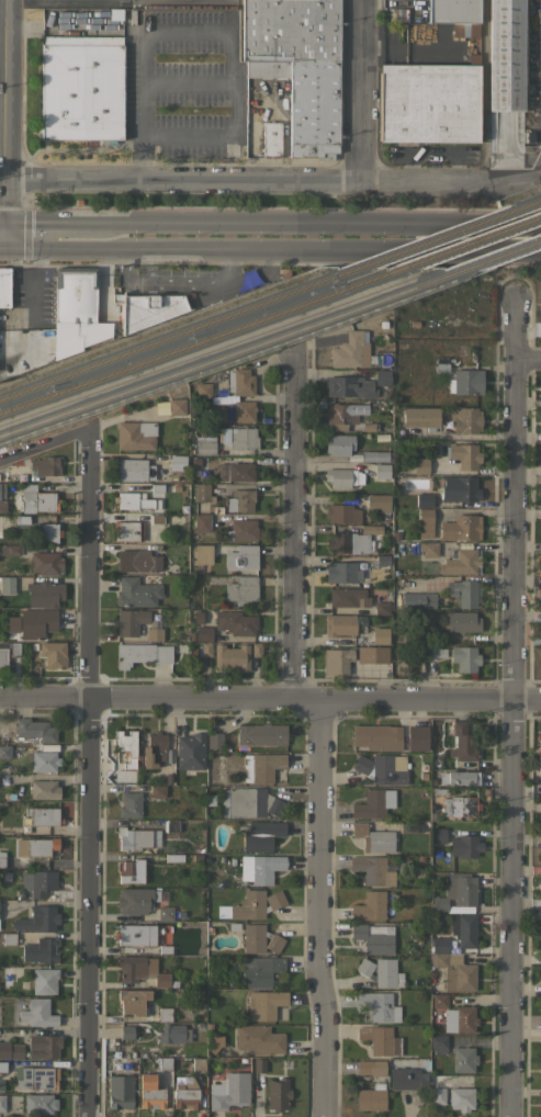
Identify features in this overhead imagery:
road: (2, 3)
building: (453, 11)
building: (114, 13)
road: (206, 25)
building: (465, 29)
road: (2, 36)
building: (505, 61)
building: (301, 65)
building: (267, 68)
building: (81, 88)
road: (358, 90)
building: (429, 102)
road: (2, 122)
building: (271, 138)
road: (537, 142)
road: (508, 166)
road: (511, 174)
road: (243, 179)
railway: (538, 203)
road: (0, 219)
traffic signals: (1, 219)
road: (47, 219)
road: (317, 223)
railway: (447, 237)
railway: (472, 242)
road: (0, 245)
traffic signals: (1, 245)
road: (270, 248)
railway: (503, 253)
building: (4, 286)
building: (148, 308)
building: (76, 311)
building: (0, 317)
building: (414, 324)
building: (382, 325)
railway: (180, 335)
railway: (202, 342)
building: (351, 349)
railway: (232, 351)
road: (526, 358)
building: (382, 376)
building: (240, 382)
building: (467, 382)
building: (349, 386)
building: (203, 390)
building: (177, 406)
building: (161, 407)
building: (244, 410)
building: (217, 413)
building: (341, 415)
building: (419, 417)
building: (465, 419)
building: (369, 427)
building: (408, 433)
building: (135, 435)
building: (239, 437)
building: (339, 443)
road: (44, 445)
building: (204, 447)
building: (463, 454)
building: (374, 455)
building: (178, 462)
building: (420, 464)
building: (45, 465)
building: (134, 470)
building: (239, 471)
building: (382, 471)
building: (342, 477)
building: (156, 487)
building: (460, 488)
building: (2, 489)
building: (202, 492)
building: (33, 499)
building: (424, 499)
building: (133, 500)
building: (239, 500)
building: (379, 501)
building: (2, 506)
building: (342, 512)
building: (21, 520)
building: (202, 522)
building: (425, 522)
road: (290, 526)
building: (461, 527)
building: (127, 530)
building: (241, 530)
building: (47, 532)
building: (351, 540)
building: (428, 549)
building: (10, 550)
building: (202, 553)
building: (241, 557)
building: (137, 560)
building: (382, 561)
building: (460, 562)
building: (46, 563)
building: (347, 572)
building: (7, 584)
building: (241, 590)
building: (136, 591)
building: (463, 591)
building: (44, 594)
building: (345, 596)
building: (418, 600)
building: (382, 608)
building: (196, 617)
building: (461, 621)
building: (36, 622)
building: (235, 622)
building: (125, 623)
building: (342, 623)
building: (12, 624)
building: (203, 633)
building: (410, 634)
building: (380, 635)
building: (191, 636)
building: (204, 650)
building: (255, 650)
building: (8, 651)
building: (432, 651)
building: (54, 654)
building: (142, 654)
building: (372, 654)
building: (230, 657)
building: (464, 658)
building: (338, 662)
road: (270, 697)
road: (508, 707)
building: (35, 729)
building: (261, 734)
building: (377, 736)
building: (417, 737)
building: (215, 740)
building: (462, 741)
building: (126, 746)
building: (190, 751)
building: (5, 752)
building: (157, 752)
building: (436, 757)
building: (43, 760)
building: (538, 761)
building: (361, 764)
building: (261, 766)
building: (388, 768)
road: (86, 772)
building: (462, 778)
building: (44, 789)
building: (157, 791)
building: (11, 796)
building: (207, 800)
building: (249, 802)
building: (370, 803)
building: (129, 804)
building: (461, 805)
building: (44, 815)
building: (431, 816)
building: (171, 825)
building: (409, 827)
building: (261, 835)
building: (438, 835)
building: (137, 838)
building: (373, 838)
building: (41, 846)
building: (465, 846)
building: (174, 857)
building: (1, 861)
building: (260, 868)
building: (372, 870)
building: (132, 871)
building: (42, 882)
building: (457, 893)
building: (275, 900)
building: (135, 901)
building: (245, 905)
building: (370, 906)
road: (315, 907)
building: (166, 913)
building: (37, 919)
building: (233, 927)
building: (464, 929)
building: (135, 934)
building: (374, 937)
building: (9, 938)
building: (260, 939)
building: (439, 945)
building: (164, 949)
building: (41, 950)
building: (364, 967)
building: (142, 970)
building: (260, 970)
building: (454, 971)
building: (387, 973)
building: (44, 980)
building: (439, 1000)
building: (133, 1001)
building: (263, 1004)
building: (380, 1005)
building: (36, 1013)
building: (165, 1013)
building: (459, 1018)
building: (126, 1031)
building: (166, 1034)
building: (259, 1039)
building: (380, 1039)
building: (216, 1042)
building: (438, 1043)
building: (44, 1046)
building: (540, 1047)
building: (11, 1050)
building: (463, 1059)
building: (165, 1063)
building: (198, 1063)
building: (259, 1064)
building: (371, 1067)
building: (37, 1077)
building: (407, 1077)
building: (0, 1085)
building: (120, 1091)
building: (228, 1091)
building: (150, 1092)
building: (185, 1092)
building: (278, 1094)
building: (438, 1095)
building: (371, 1097)
building: (460, 1098)
building: (2, 1102)
building: (38, 1103)

